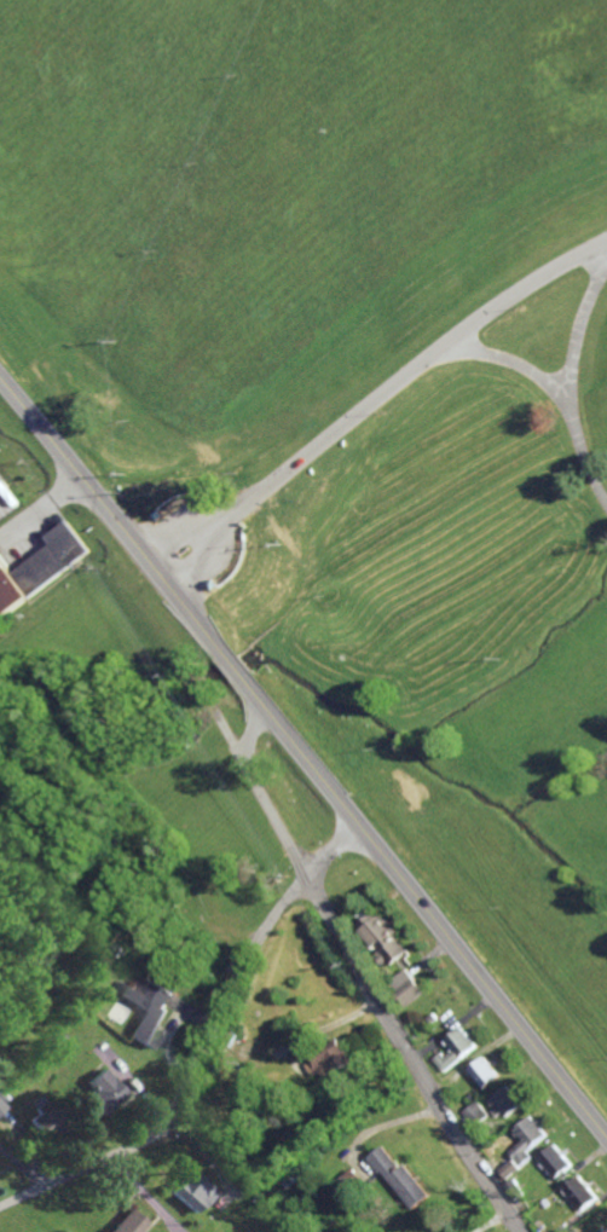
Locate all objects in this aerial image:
road: (580, 324)
road: (508, 358)
road: (377, 397)
road: (580, 450)
building: (40, 569)
road: (303, 752)
building: (212, 898)
building: (160, 904)
building: (126, 908)
building: (385, 937)
building: (197, 945)
building: (117, 947)
road: (366, 974)
building: (407, 985)
building: (151, 1011)
building: (433, 1017)
building: (53, 1036)
building: (233, 1036)
road: (204, 1045)
building: (458, 1048)
building: (333, 1058)
building: (486, 1071)
building: (103, 1091)
building: (507, 1101)
building: (2, 1104)
building: (346, 1110)
building: (478, 1111)
building: (50, 1120)
building: (531, 1136)
building: (557, 1159)
building: (513, 1168)
building: (404, 1176)
building: (297, 1178)
building: (353, 1181)
building: (289, 1182)
building: (516, 1188)
building: (193, 1191)
building: (582, 1192)
building: (131, 1222)

